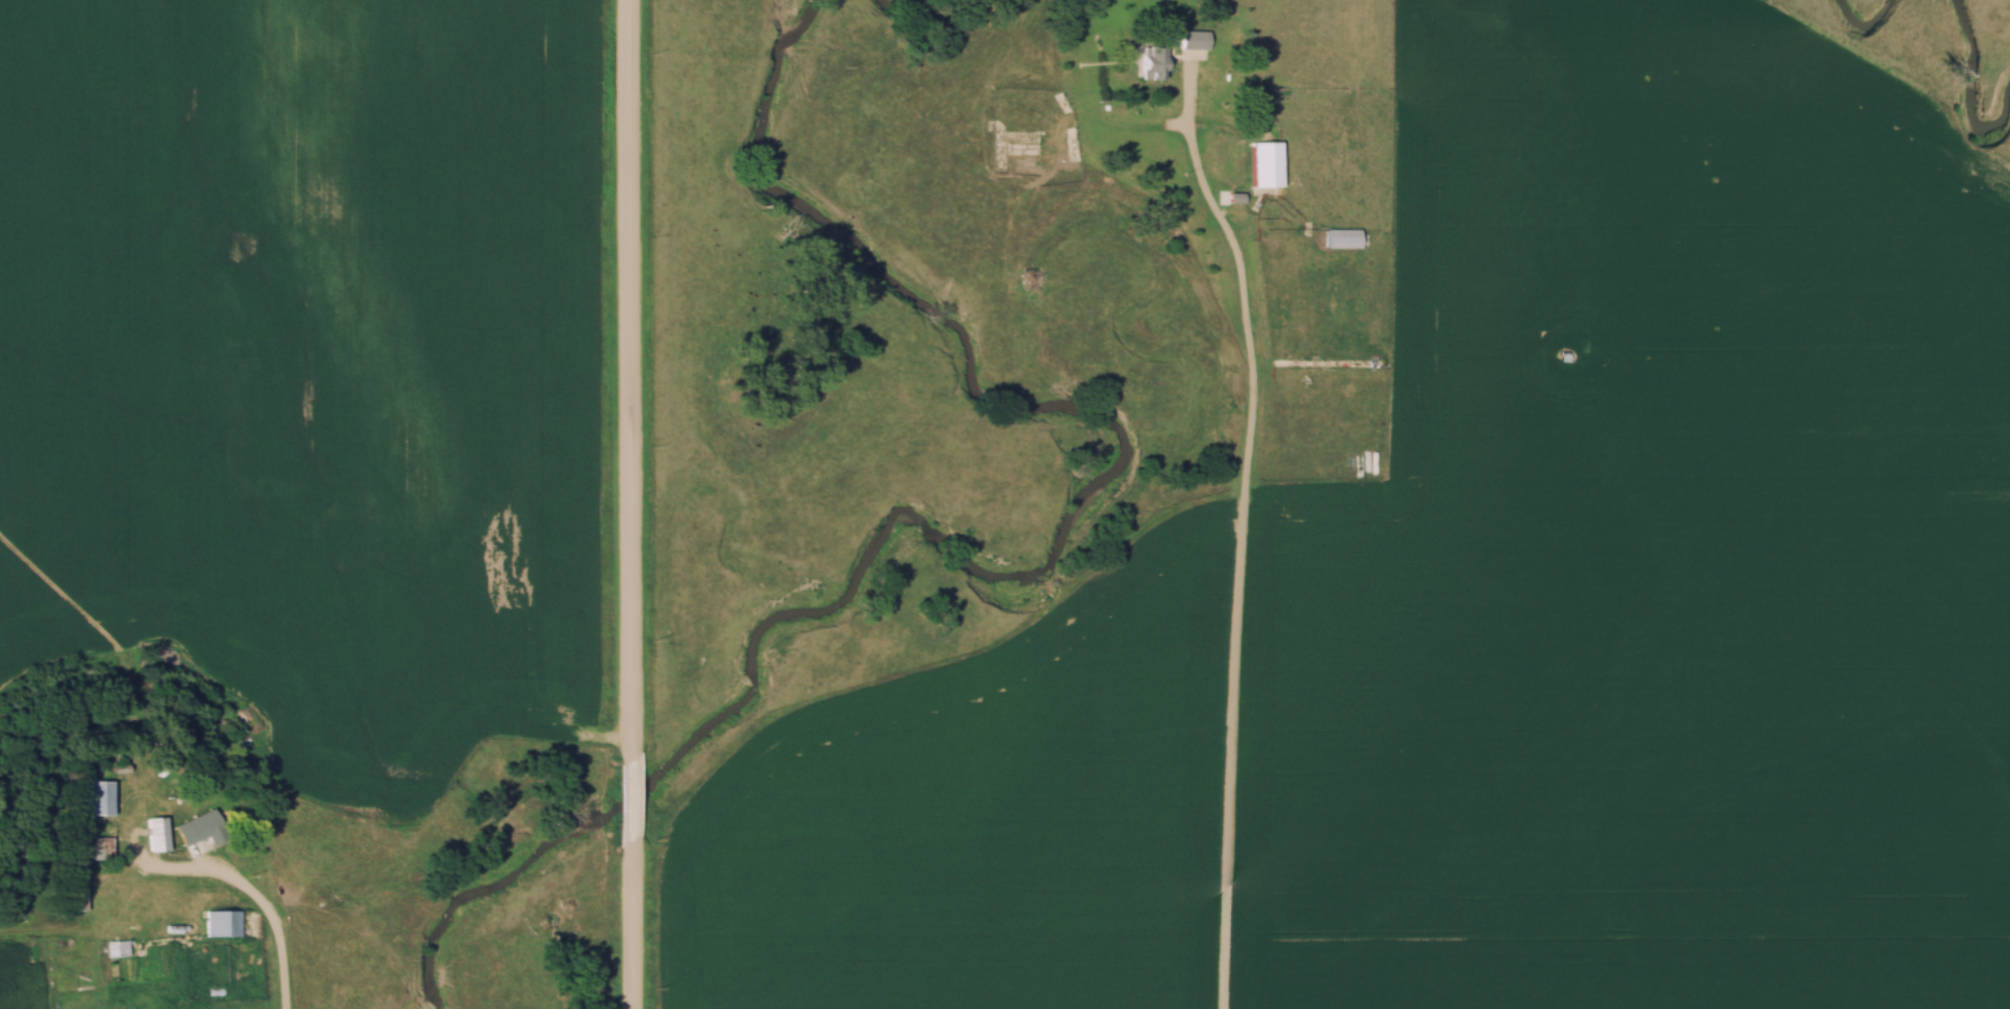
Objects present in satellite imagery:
river: (904, 10)
river: (1861, 22)
building: (1192, 39)
building: (1149, 61)
river: (1961, 85)
building: (1272, 169)
building: (1348, 244)
road: (631, 383)
road: (1246, 543)
river: (1011, 570)
building: (104, 801)
road: (631, 803)
building: (203, 829)
building: (160, 836)
building: (76, 899)
road: (258, 899)
building: (221, 923)
road: (632, 923)
building: (117, 949)

